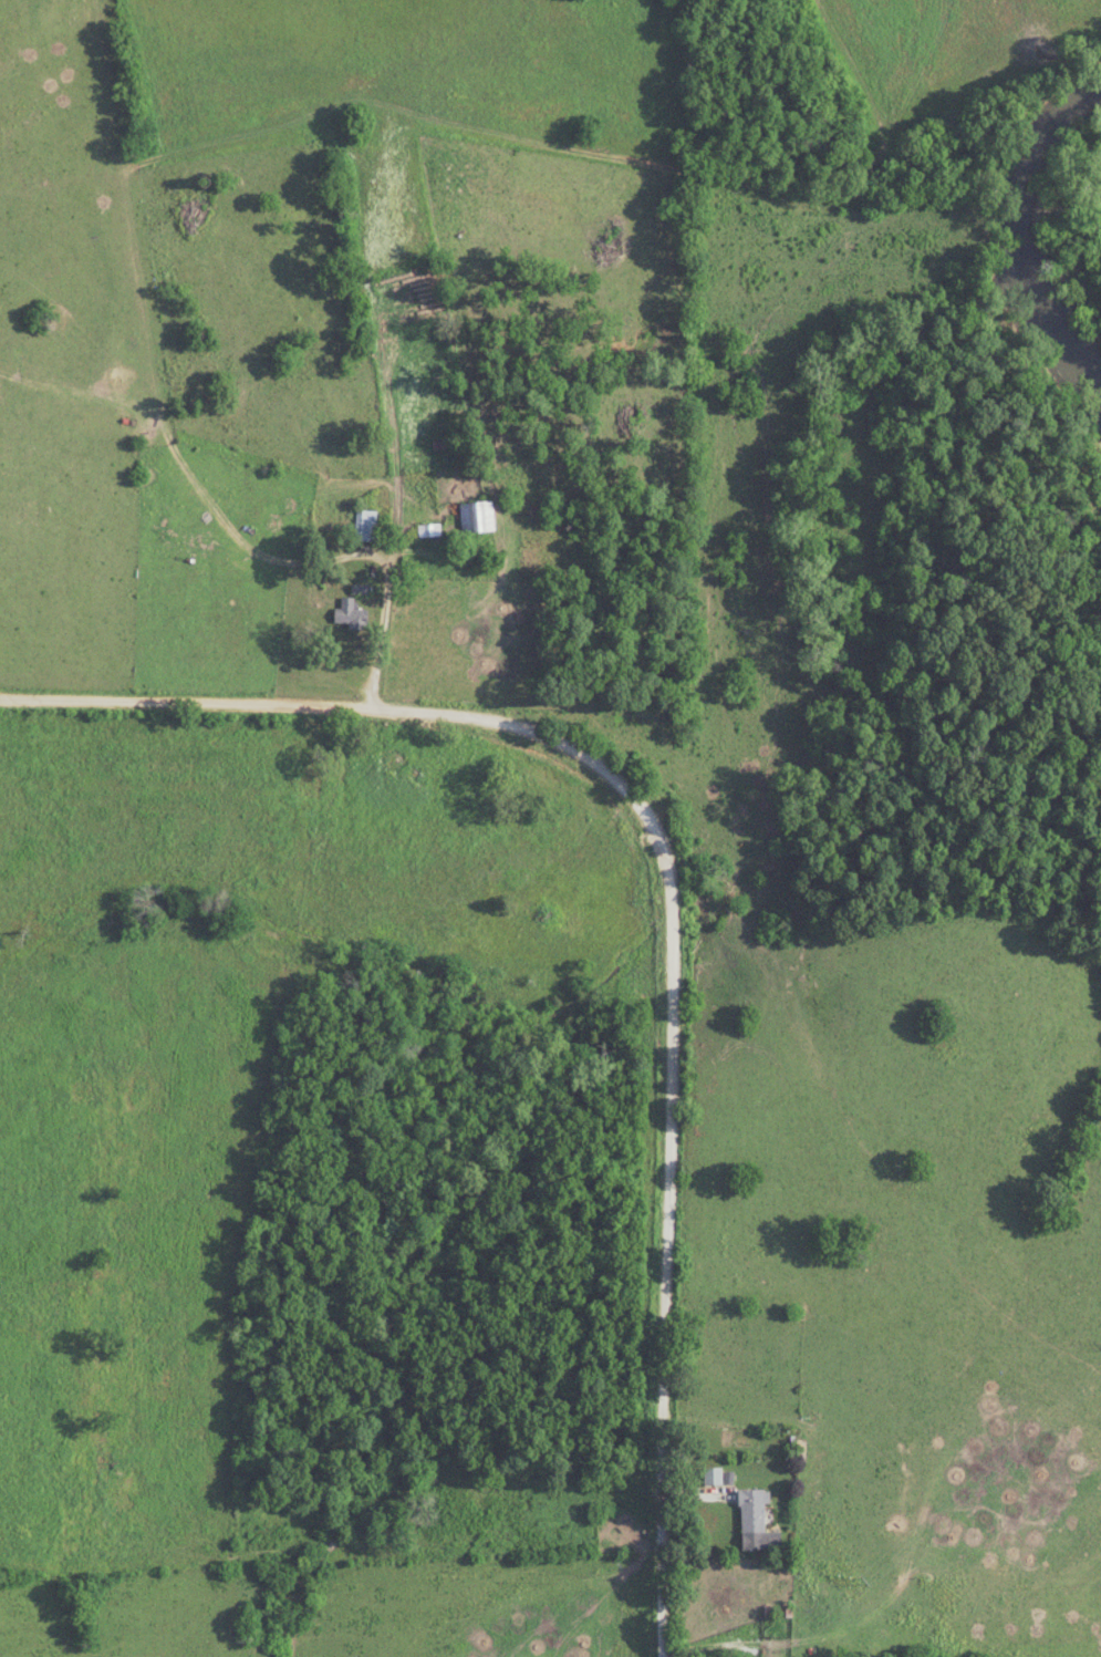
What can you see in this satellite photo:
road: (502, 145)
road: (160, 160)
river: (1024, 240)
road: (386, 333)
building: (475, 516)
building: (364, 525)
building: (350, 614)
road: (668, 899)
building: (710, 1475)
building: (750, 1510)

